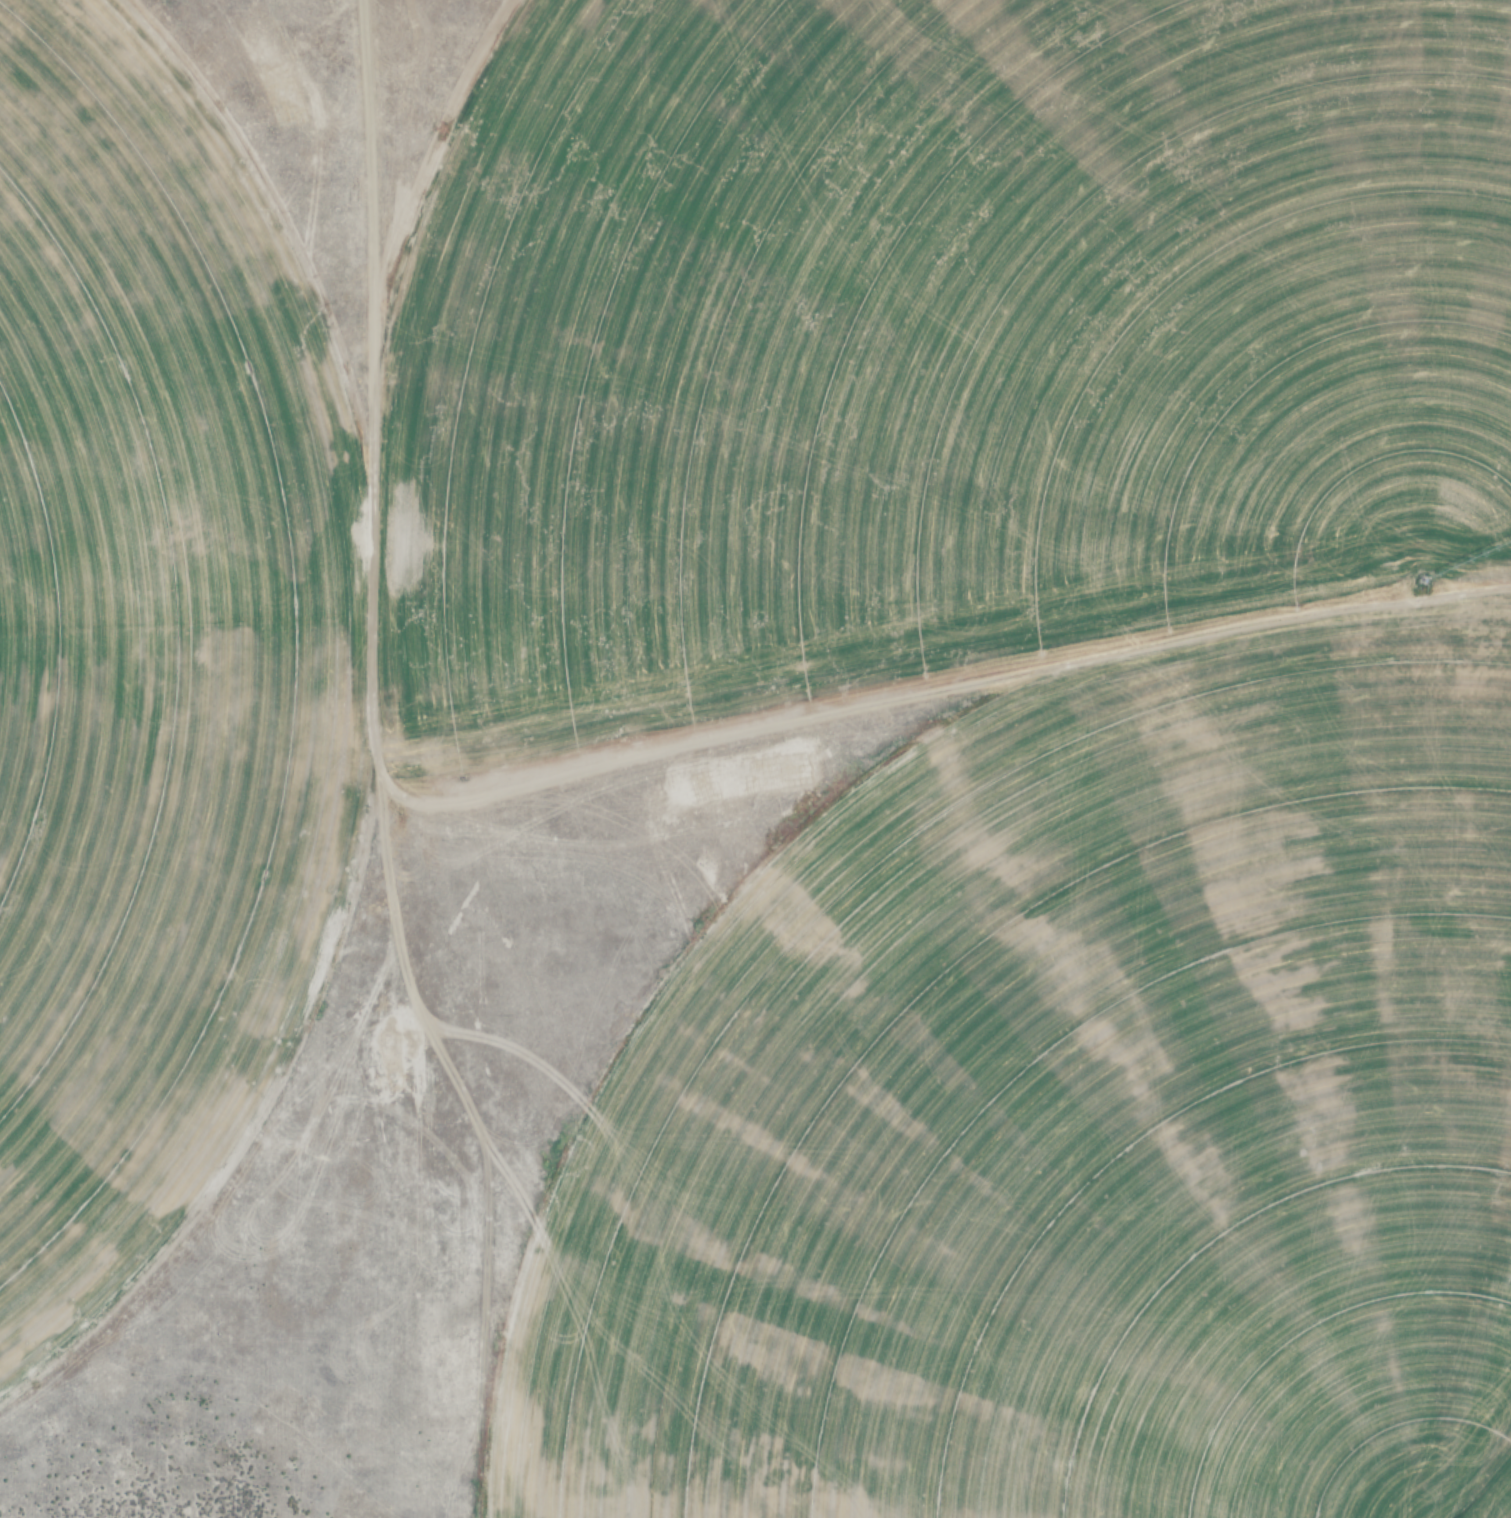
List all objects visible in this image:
crop: (161, 643)

